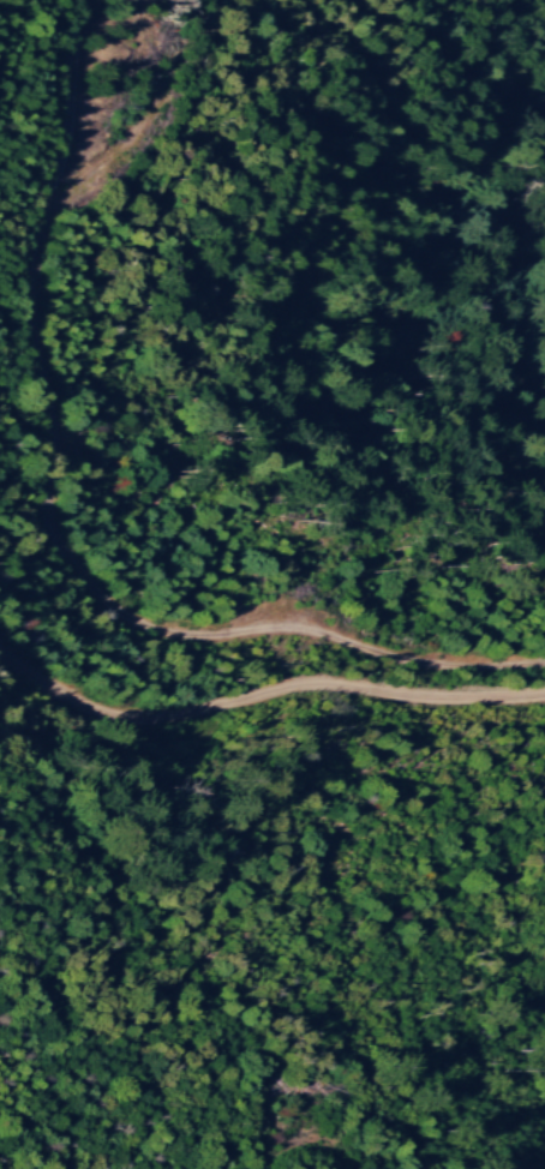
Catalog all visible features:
road: (80, 508)
road: (208, 705)

